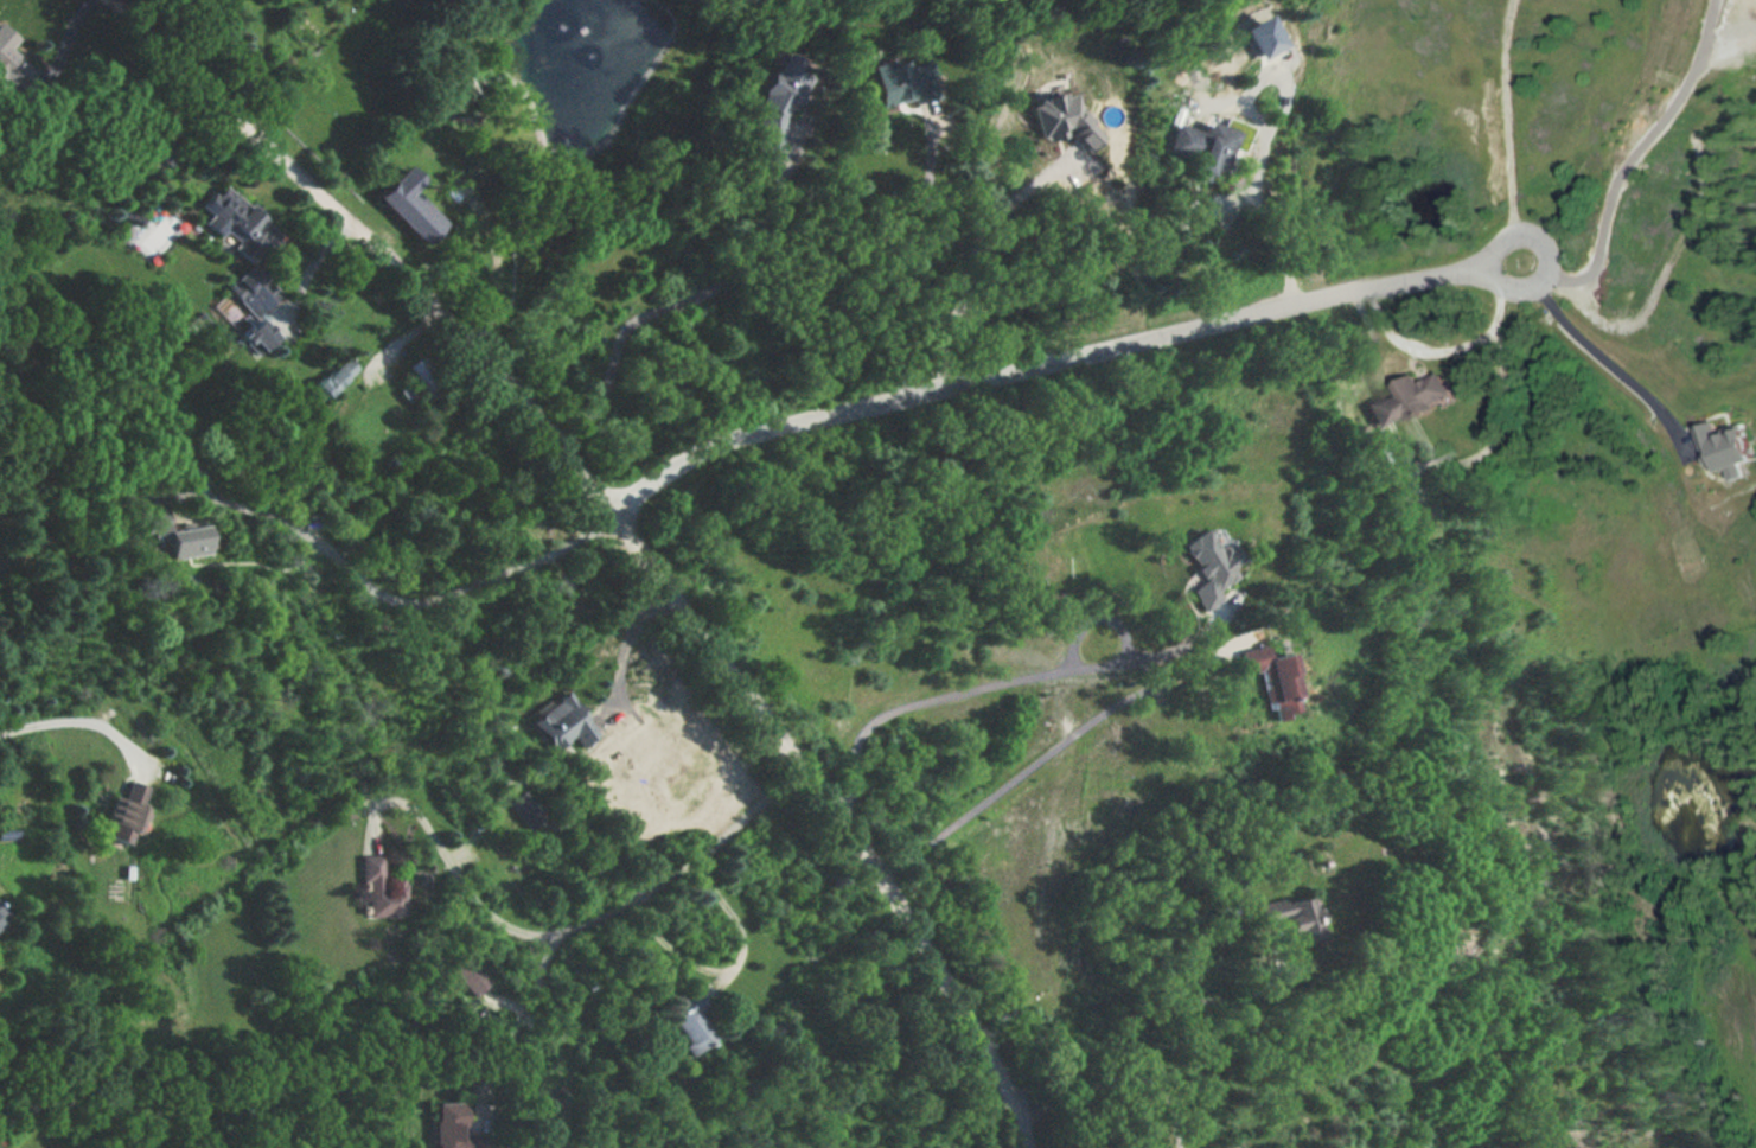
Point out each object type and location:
building: (6, 52)
building: (902, 84)
building: (777, 104)
building: (1211, 149)
road: (1614, 170)
road: (765, 171)
road: (1266, 178)
road: (1241, 204)
building: (411, 206)
building: (242, 245)
road: (906, 253)
road: (496, 256)
road: (971, 260)
road: (689, 301)
building: (257, 338)
road: (1406, 352)
road: (1595, 361)
road: (1051, 362)
building: (417, 369)
building: (331, 381)
building: (1406, 395)
road: (1489, 406)
building: (1723, 442)
road: (630, 529)
building: (185, 543)
building: (1219, 569)
road: (453, 593)
road: (1100, 621)
road: (627, 642)
road: (1021, 680)
building: (1286, 681)
road: (74, 722)
building: (561, 725)
road: (1068, 741)
building: (121, 815)
building: (378, 889)
building: (1298, 917)
road: (577, 924)
building: (1, 926)
road: (1288, 951)
road: (728, 969)
building: (460, 981)
road: (524, 1010)
road: (1155, 1019)
building: (690, 1028)
road: (1119, 1080)
building: (449, 1127)

